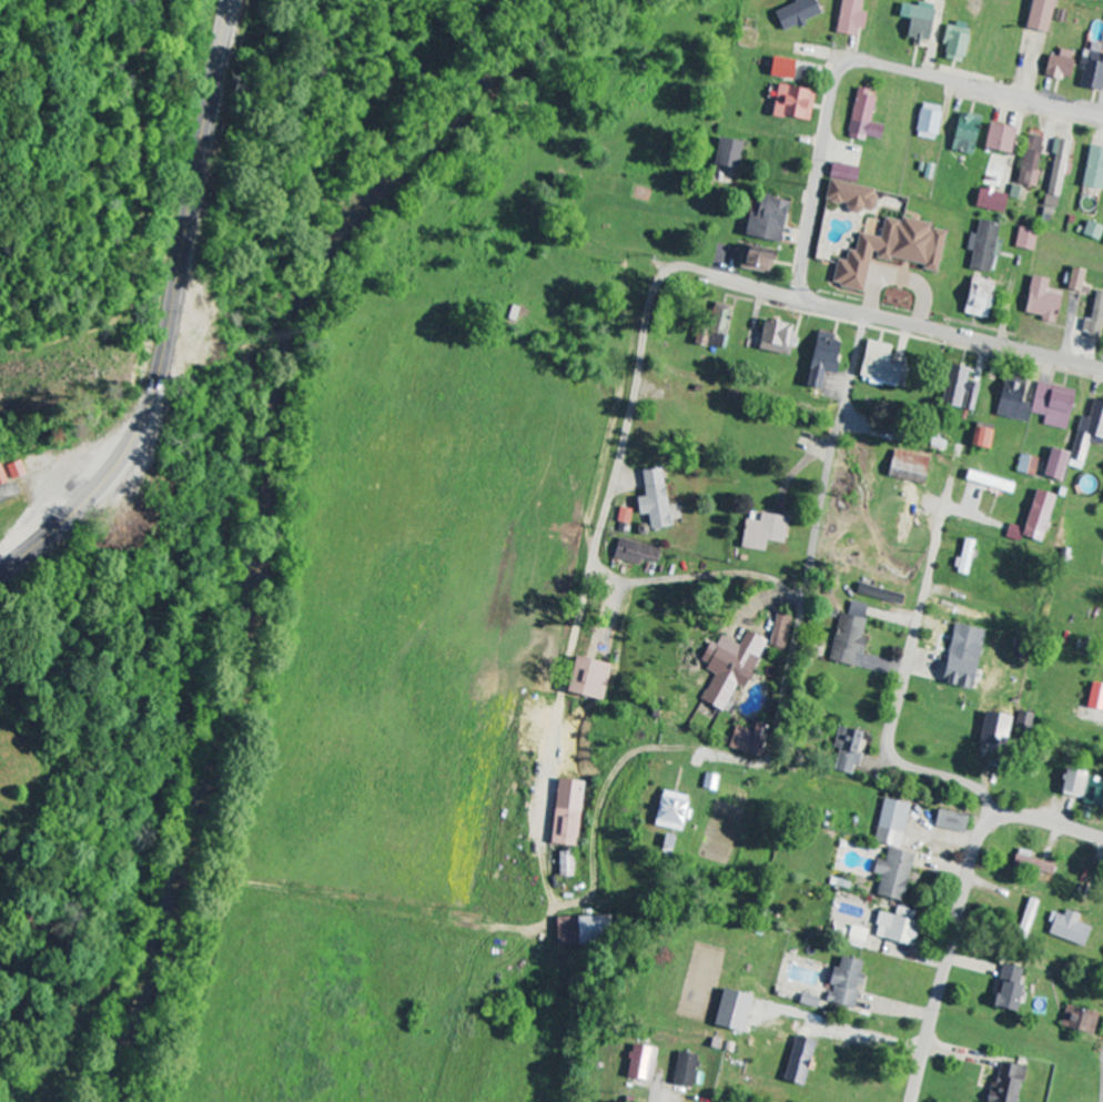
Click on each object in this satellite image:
building: (973, 7)
building: (795, 14)
building: (1036, 16)
building: (849, 18)
building: (915, 21)
building: (953, 42)
building: (1058, 65)
building: (1091, 72)
building: (790, 104)
building: (861, 119)
building: (928, 122)
building: (963, 134)
building: (996, 140)
building: (726, 154)
building: (1029, 162)
building: (1092, 170)
building: (841, 173)
building: (1055, 178)
building: (849, 198)
road: (812, 201)
building: (989, 201)
building: (765, 221)
building: (1091, 232)
building: (1024, 241)
building: (982, 247)
building: (888, 252)
building: (753, 261)
building: (1074, 280)
building: (976, 299)
building: (1040, 301)
road: (650, 309)
road: (171, 315)
building: (1093, 317)
building: (717, 326)
building: (775, 338)
building: (819, 360)
building: (876, 366)
building: (957, 391)
building: (1011, 404)
building: (1052, 406)
building: (1090, 432)
building: (979, 439)
building: (1025, 466)
building: (1053, 466)
building: (907, 468)
building: (20, 471)
building: (6, 476)
building: (988, 483)
river: (255, 488)
building: (652, 501)
building: (625, 517)
building: (1032, 519)
building: (761, 533)
building: (635, 553)
building: (963, 558)
building: (878, 594)
building: (777, 635)
building: (846, 639)
road: (792, 656)
building: (961, 659)
building: (728, 667)
building: (587, 678)
road: (902, 685)
building: (1094, 697)
building: (1023, 720)
building: (991, 728)
building: (739, 738)
building: (846, 750)
building: (709, 782)
building: (1082, 789)
building: (669, 811)
building: (566, 812)
building: (949, 821)
building: (665, 843)
building: (890, 851)
building: (565, 865)
building: (1039, 866)
road: (959, 903)
building: (1026, 920)
building: (893, 927)
building: (1067, 928)
building: (580, 930)
building: (854, 937)
building: (843, 983)
building: (1005, 988)
building: (1077, 1020)
building: (639, 1063)
building: (684, 1070)
building: (1005, 1083)
road: (657, 1090)

